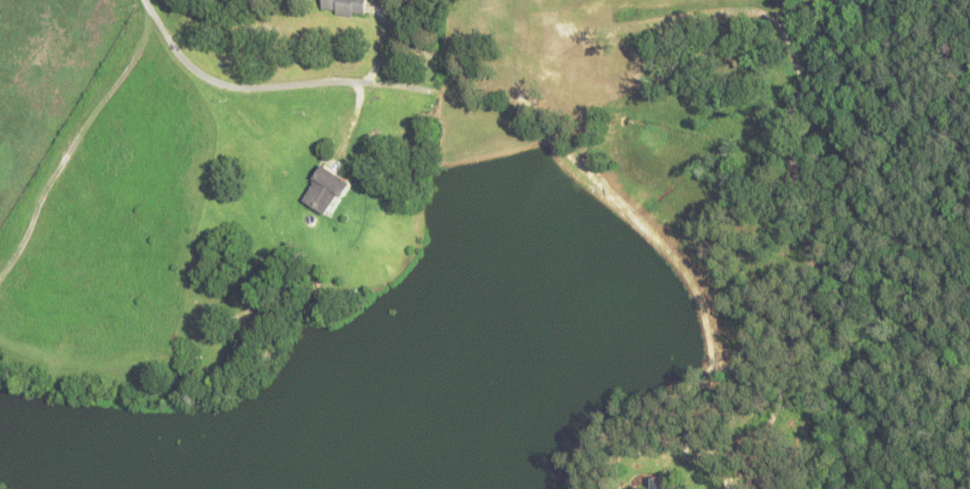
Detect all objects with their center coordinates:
building: (345, 8)
road: (232, 88)
building: (327, 192)
building: (665, 484)

